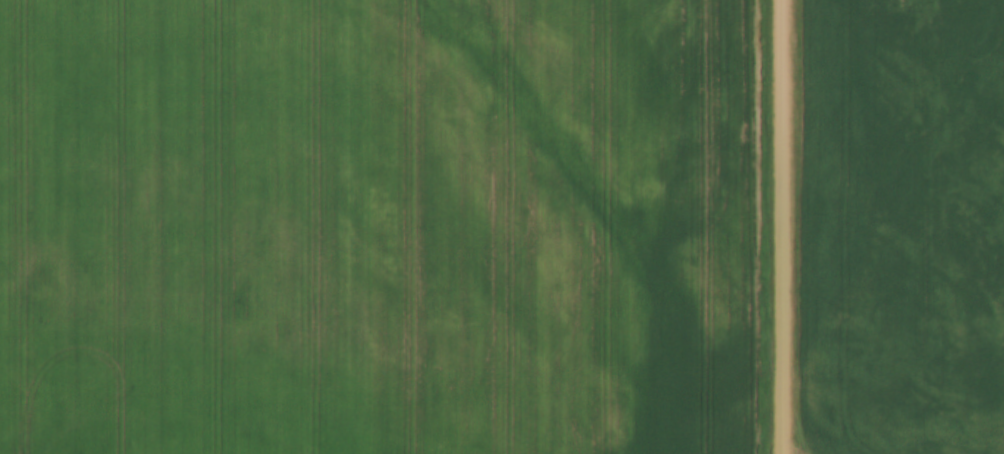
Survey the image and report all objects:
road: (787, 226)

